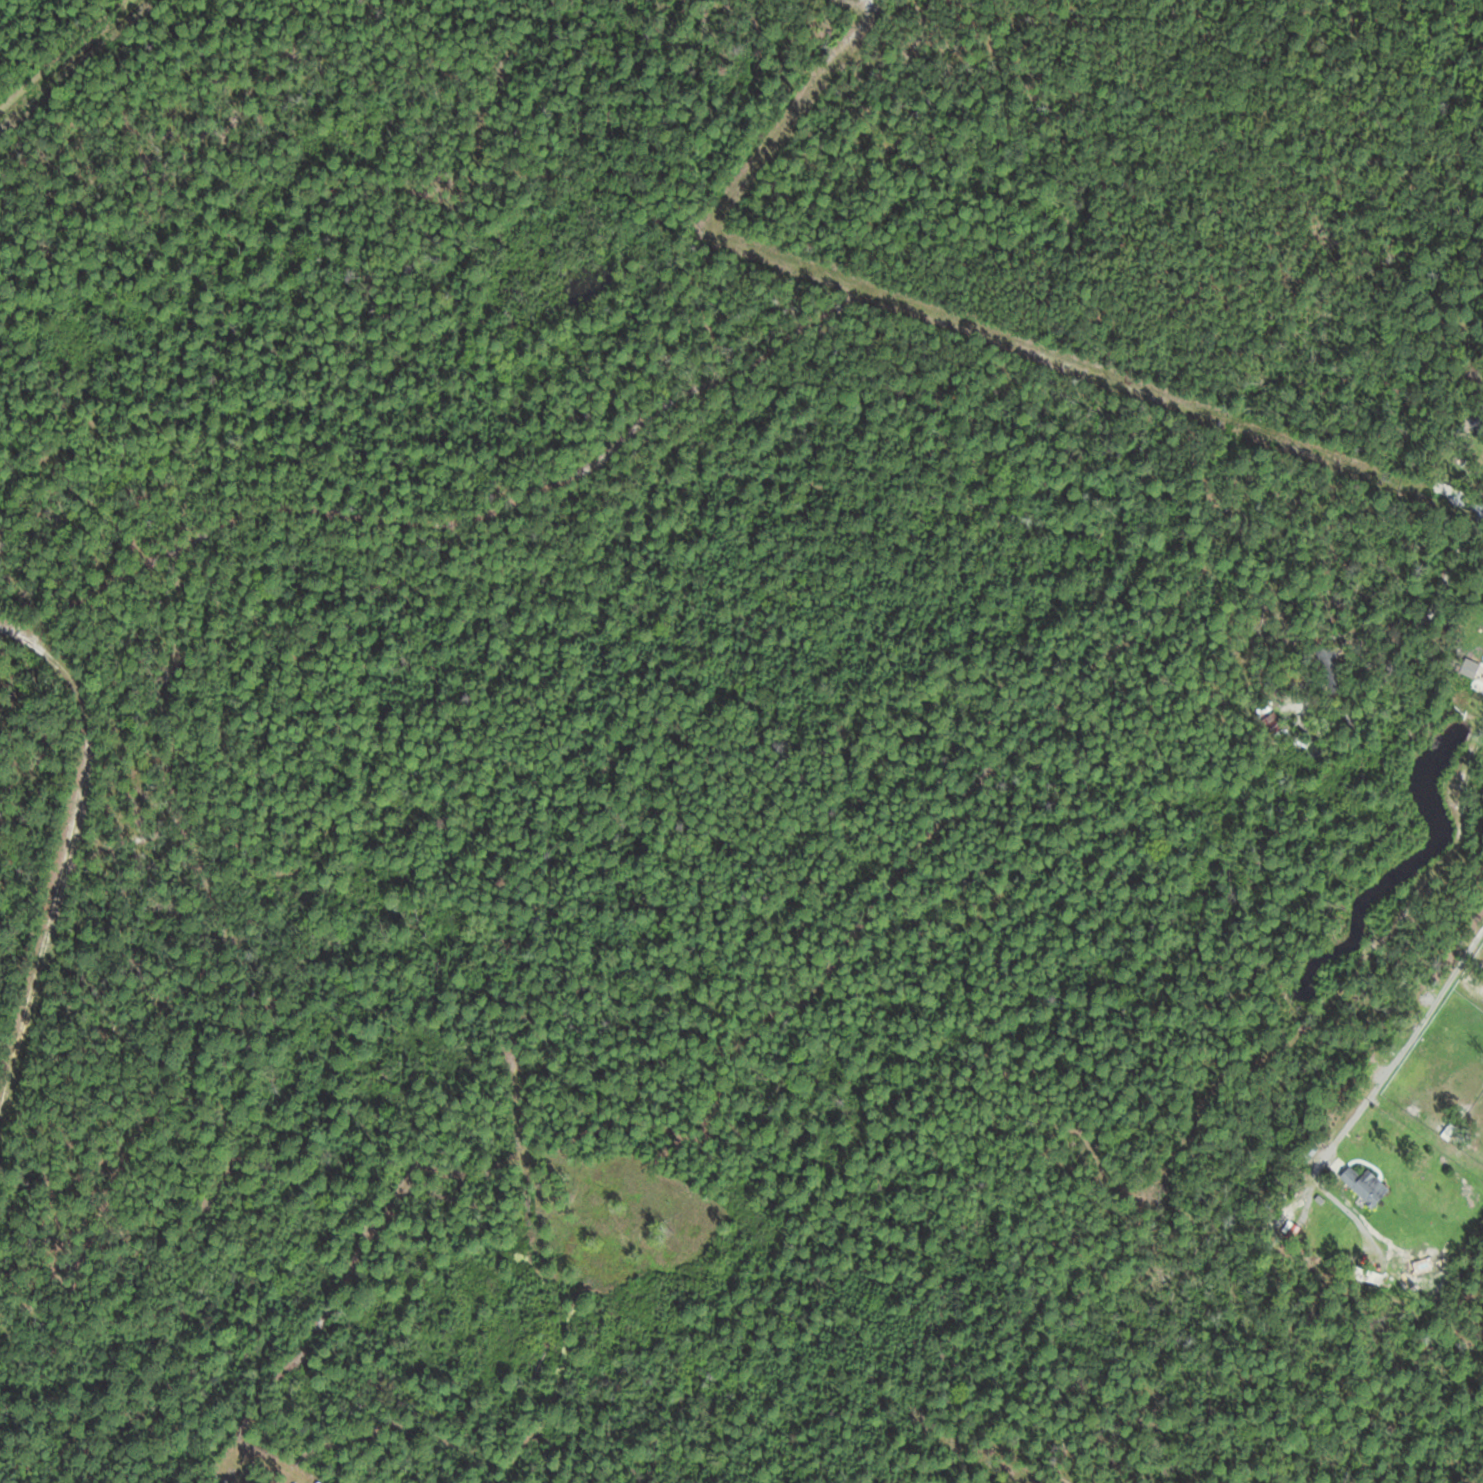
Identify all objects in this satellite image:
road: (58, 50)
building: (1276, 688)
road: (67, 849)
road: (1374, 1091)
building: (1364, 1187)

